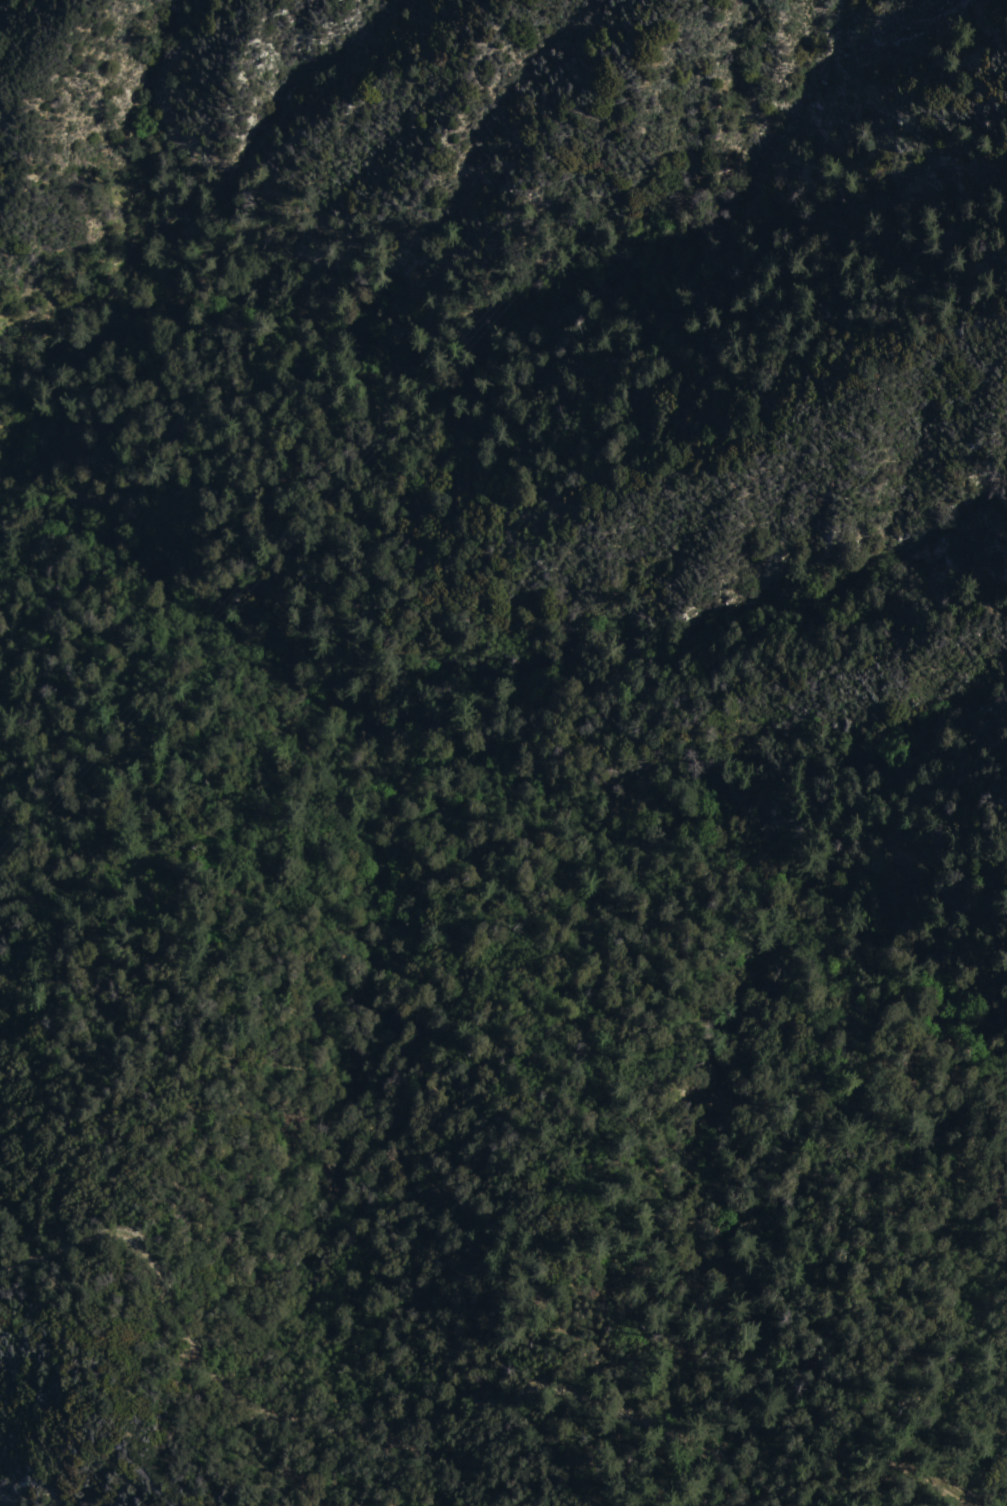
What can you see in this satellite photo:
road: (445, 1410)

